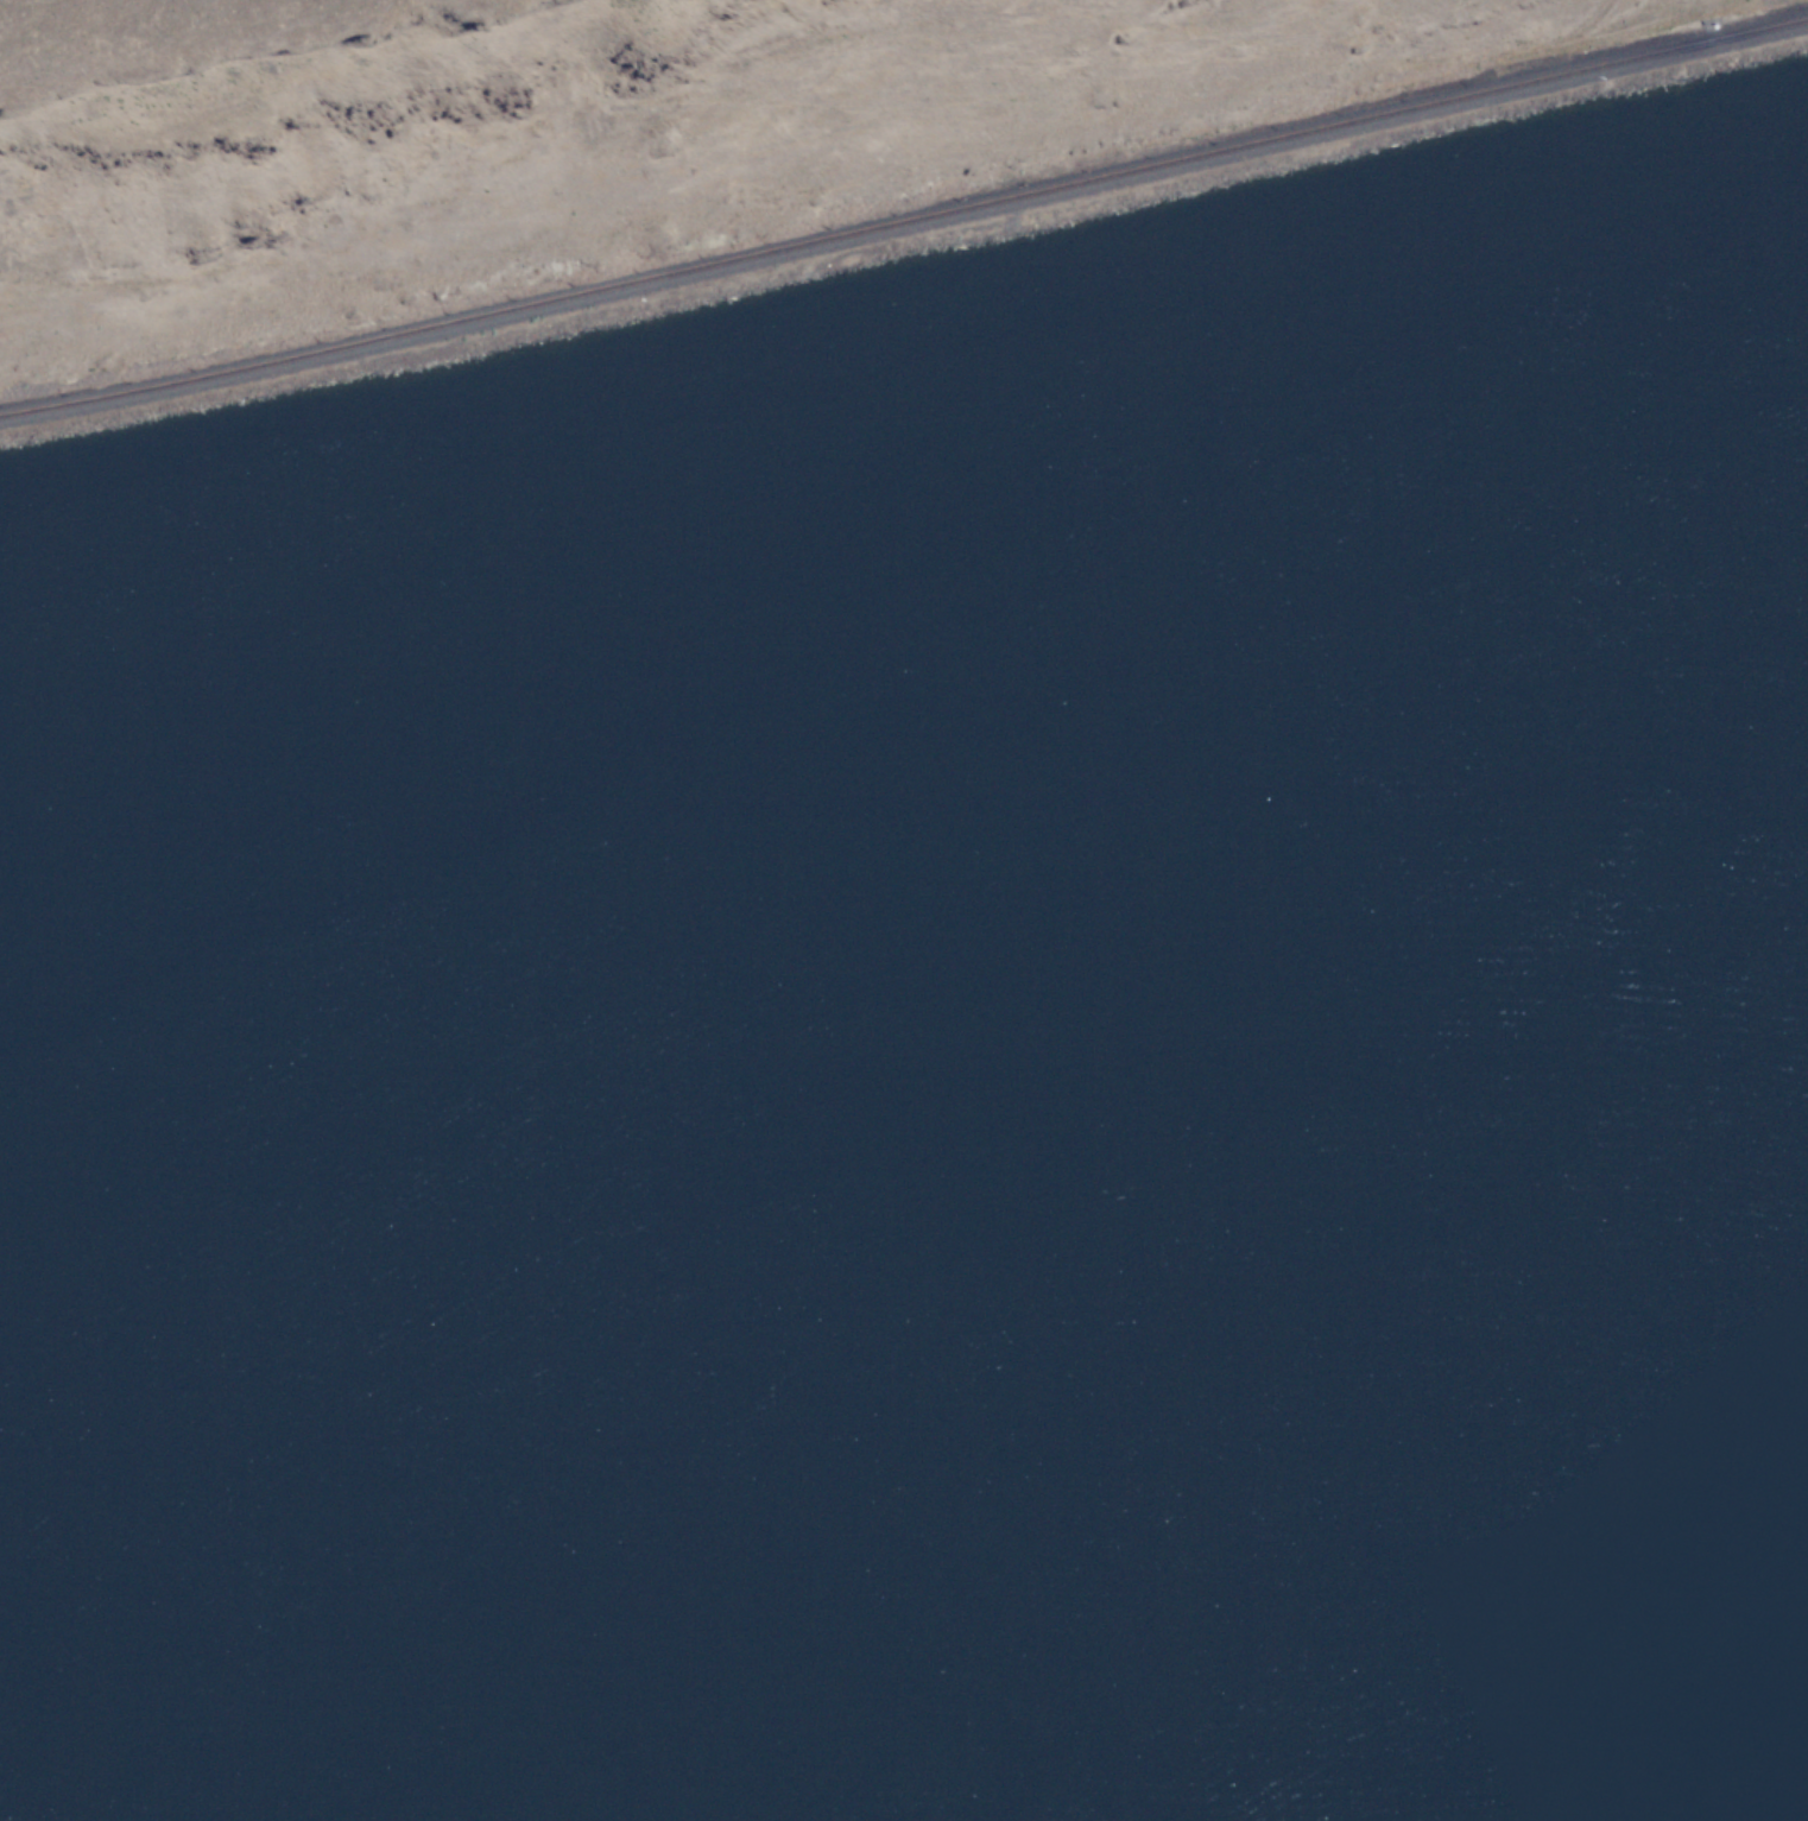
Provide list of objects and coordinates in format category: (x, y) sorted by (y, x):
railway: (904, 216)

